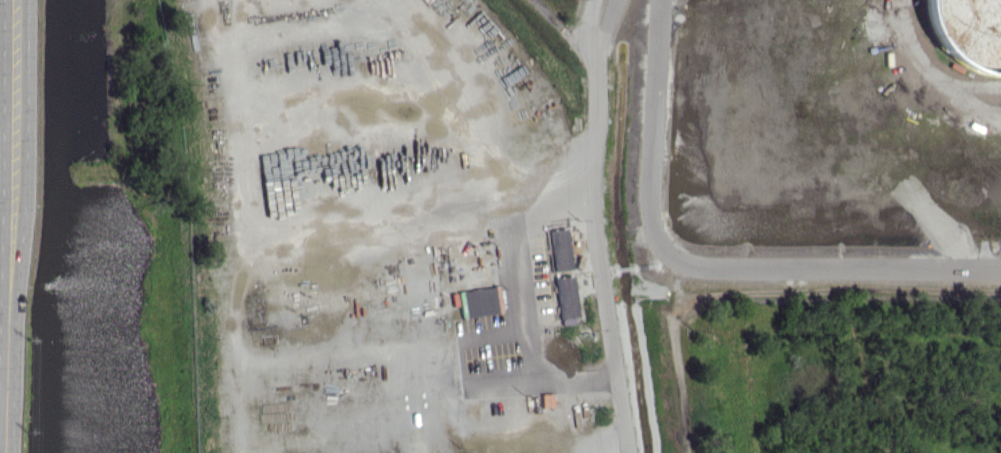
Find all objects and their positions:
road: (14, 62)
road: (6, 124)
road: (13, 139)
road: (6, 153)
road: (12, 217)
road: (589, 225)
building: (557, 248)
road: (5, 281)
building: (565, 299)
building: (481, 301)
road: (4, 364)
road: (8, 367)
road: (4, 419)

